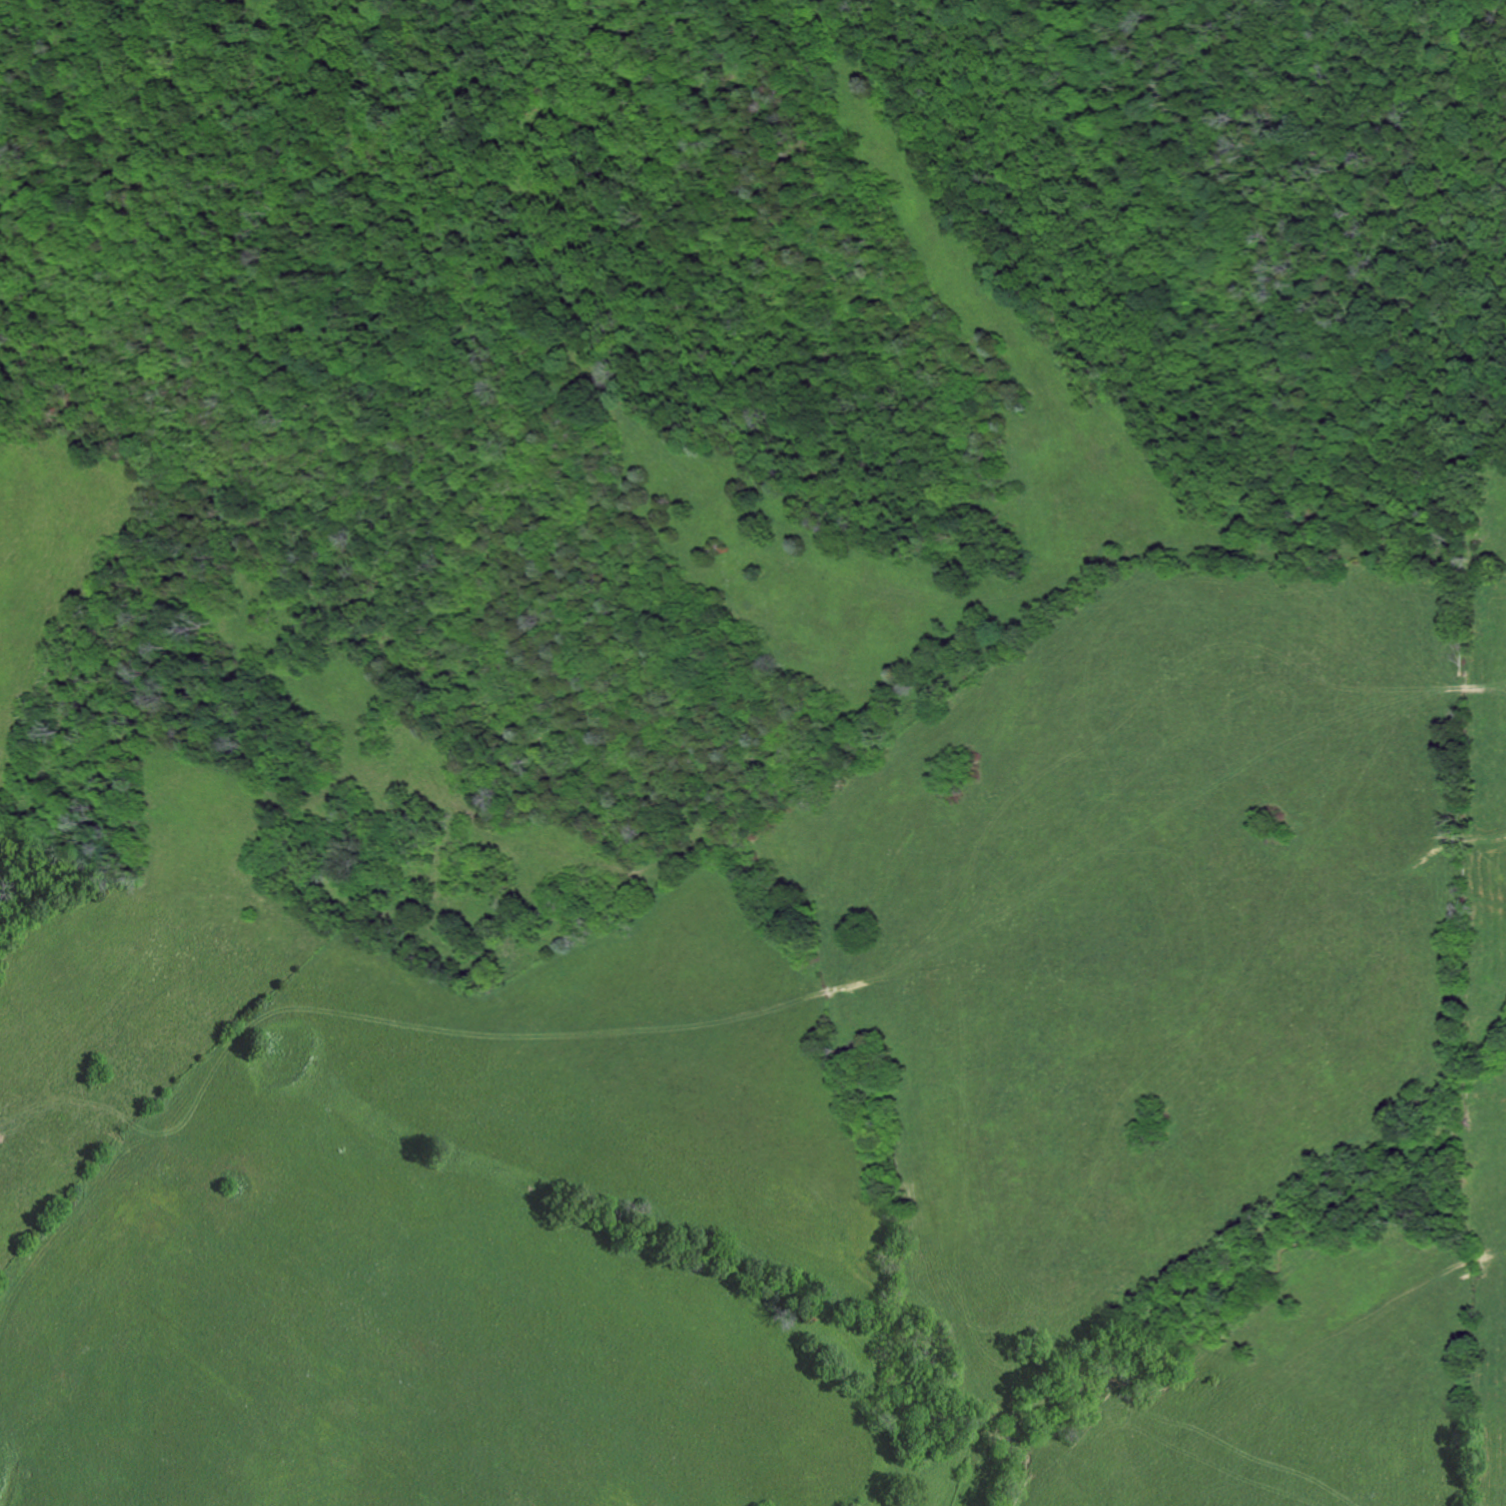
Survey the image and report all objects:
road: (55, 1214)

